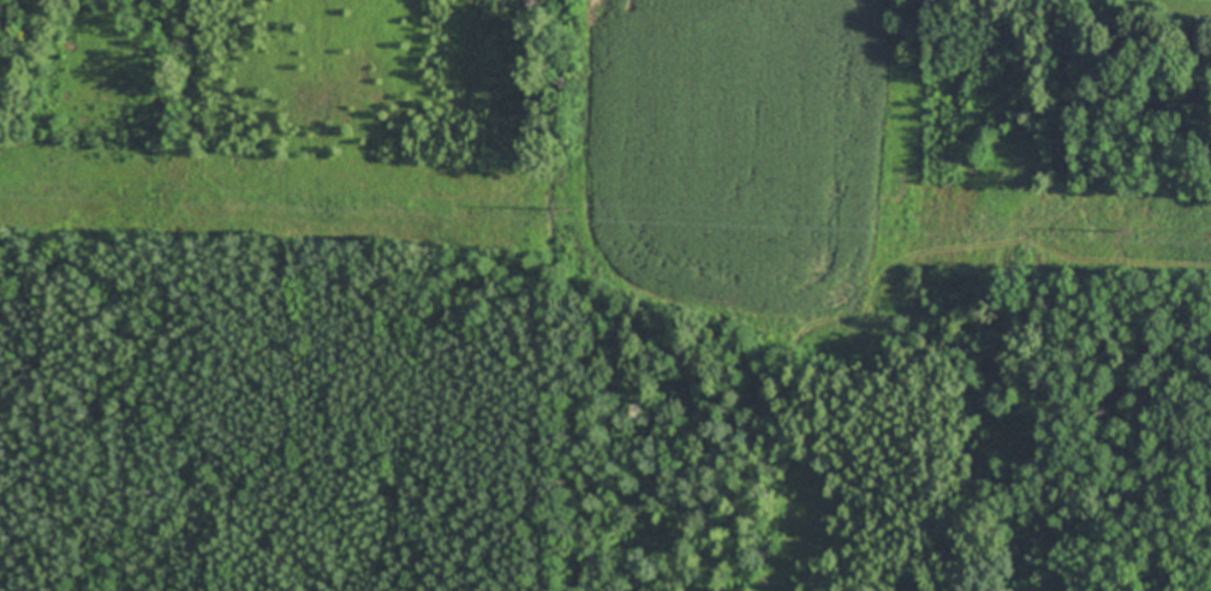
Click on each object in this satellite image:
power tower: (565, 211)
power tower: (1132, 233)

